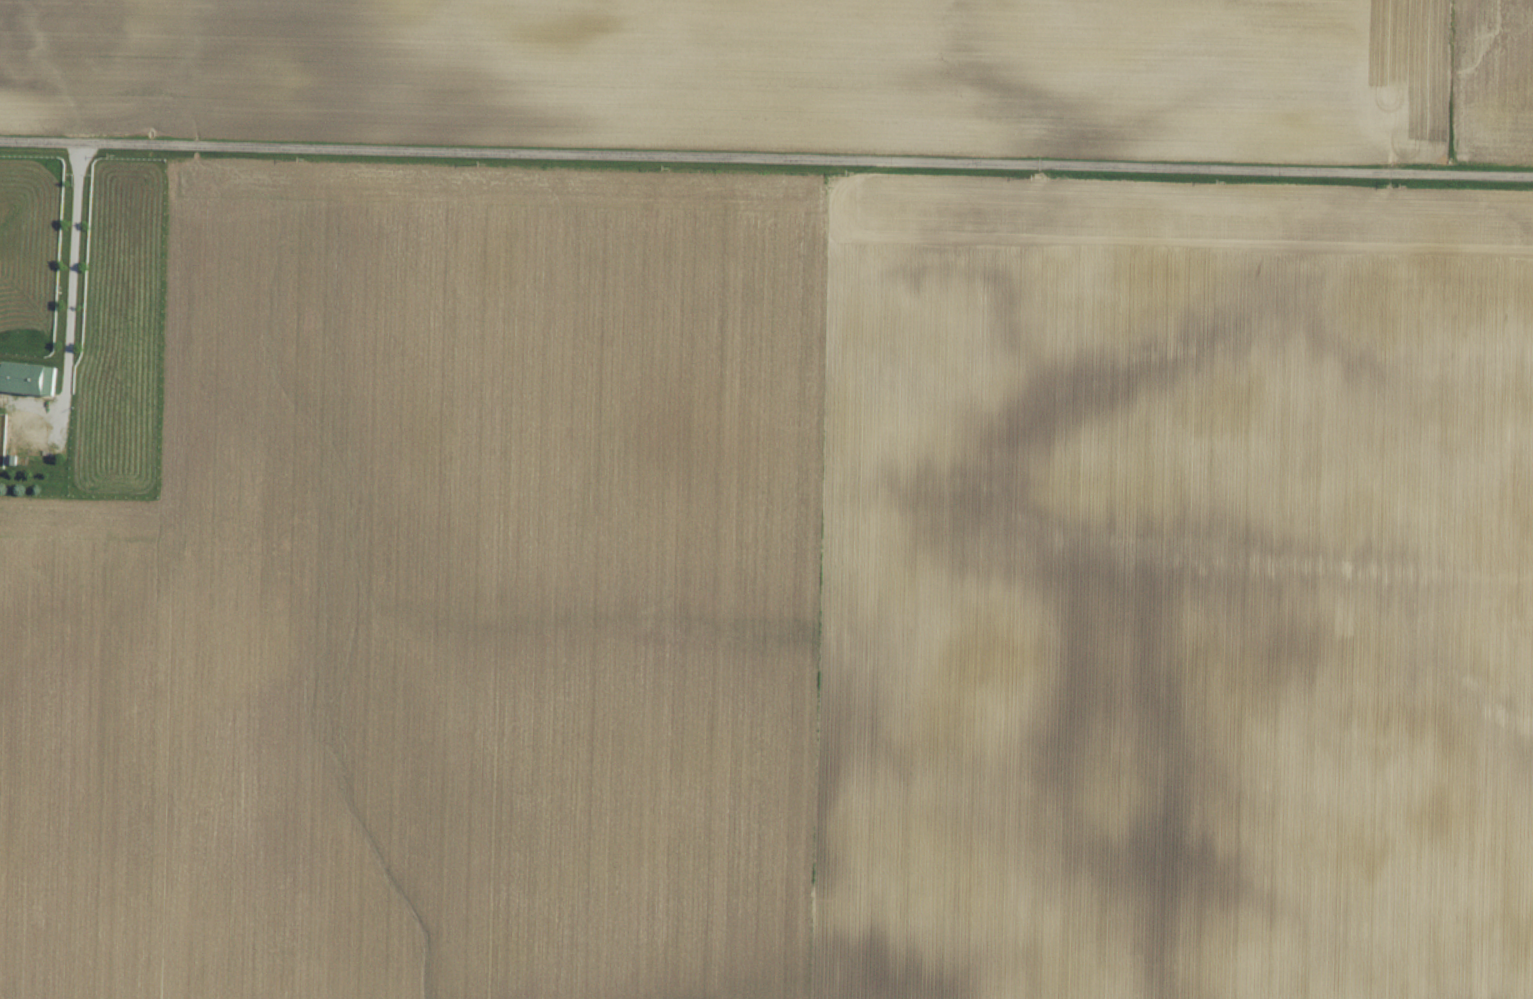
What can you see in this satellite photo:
road: (766, 155)
road: (71, 274)

